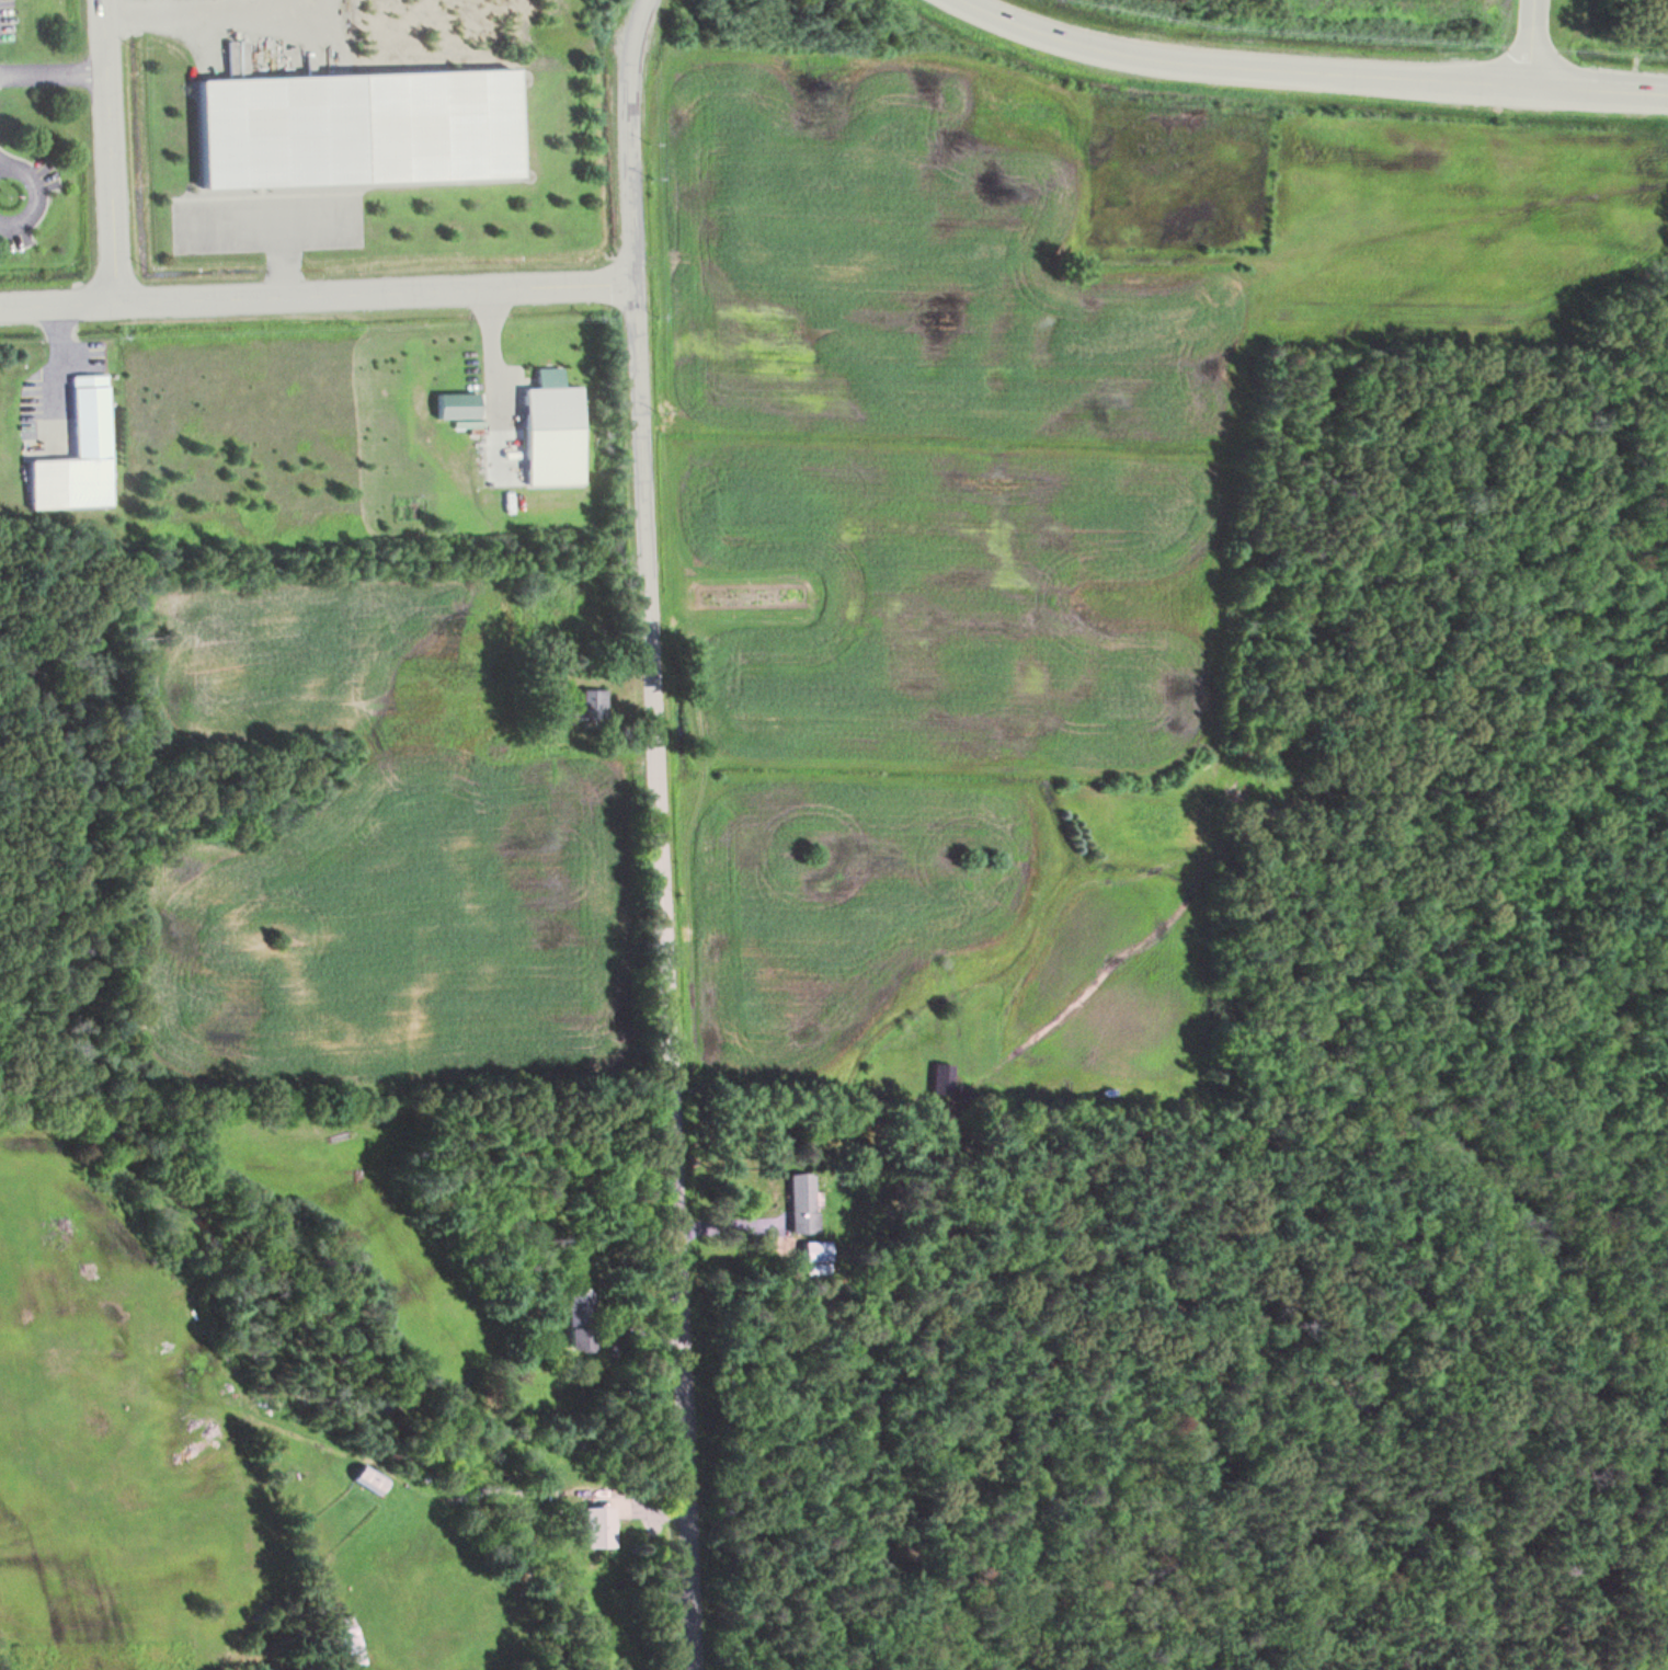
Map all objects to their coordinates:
road: (210, 5)
road: (1531, 42)
road: (52, 55)
road: (1306, 71)
building: (362, 123)
road: (108, 150)
road: (26, 178)
road: (310, 220)
road: (271, 221)
road: (318, 291)
road: (54, 348)
road: (492, 377)
building: (459, 401)
building: (555, 427)
building: (76, 435)
crop: (1010, 499)
park: (35, 560)
building: (594, 707)
road: (659, 834)
crop: (405, 888)
building: (944, 1075)
building: (803, 1201)
building: (816, 1249)
building: (581, 1324)
crop: (121, 1444)
building: (370, 1478)
building: (598, 1525)
building: (344, 1635)

